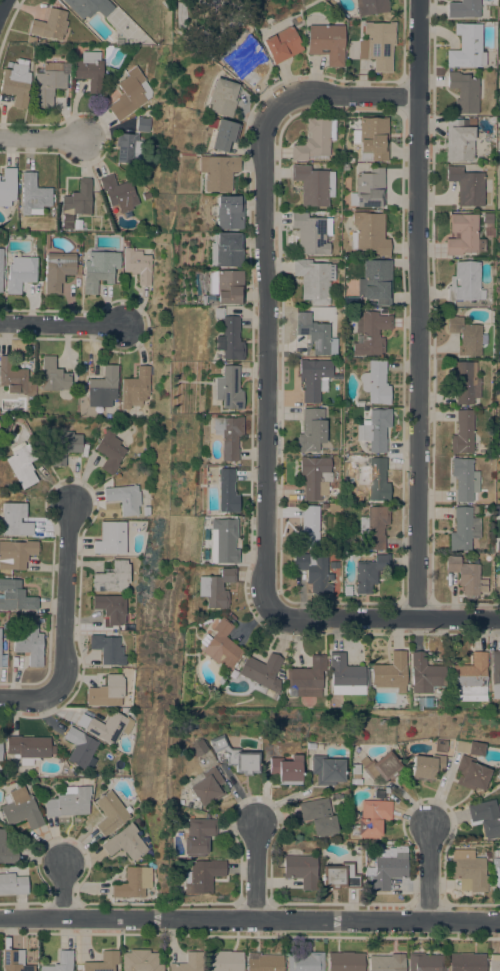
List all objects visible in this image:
road: (1, 2)
building: (89, 7)
building: (370, 7)
building: (463, 8)
building: (50, 25)
building: (142, 38)
building: (31, 40)
building: (119, 42)
building: (325, 43)
building: (280, 45)
building: (377, 45)
building: (466, 47)
building: (243, 58)
building: (89, 71)
building: (16, 83)
building: (47, 84)
building: (464, 92)
building: (130, 94)
building: (219, 98)
building: (143, 124)
building: (220, 133)
road: (42, 138)
building: (371, 139)
building: (314, 140)
building: (459, 140)
building: (131, 149)
building: (348, 158)
building: (345, 167)
building: (216, 172)
building: (313, 185)
building: (466, 186)
building: (7, 187)
building: (369, 189)
building: (119, 193)
building: (33, 195)
building: (146, 195)
building: (78, 199)
building: (227, 212)
building: (487, 218)
building: (311, 233)
building: (369, 233)
building: (463, 235)
building: (46, 241)
building: (125, 243)
building: (225, 250)
building: (138, 265)
building: (99, 269)
building: (0, 270)
building: (58, 271)
building: (20, 274)
building: (313, 280)
building: (375, 281)
building: (465, 283)
road: (266, 285)
building: (223, 288)
road: (417, 308)
road: (61, 324)
building: (370, 332)
building: (466, 335)
building: (316, 336)
building: (227, 337)
building: (53, 376)
building: (313, 378)
building: (15, 379)
building: (465, 382)
building: (375, 383)
building: (103, 387)
building: (136, 388)
building: (227, 388)
building: (359, 403)
building: (374, 430)
building: (311, 431)
building: (462, 432)
building: (227, 436)
building: (63, 447)
building: (497, 449)
building: (109, 451)
building: (21, 465)
building: (315, 477)
building: (374, 478)
building: (464, 479)
building: (226, 491)
building: (124, 499)
building: (324, 506)
building: (476, 510)
building: (497, 511)
building: (14, 520)
building: (142, 524)
building: (377, 526)
building: (308, 528)
building: (463, 529)
building: (111, 538)
building: (222, 540)
building: (16, 554)
building: (313, 571)
building: (369, 573)
building: (466, 575)
building: (112, 577)
building: (499, 581)
building: (214, 588)
building: (347, 590)
building: (15, 596)
road: (64, 596)
building: (111, 607)
road: (387, 618)
building: (27, 642)
building: (220, 644)
building: (108, 649)
building: (389, 673)
building: (261, 674)
building: (422, 674)
building: (344, 675)
building: (494, 675)
building: (220, 677)
building: (305, 678)
building: (468, 679)
building: (106, 692)
road: (28, 696)
building: (107, 726)
building: (441, 745)
building: (311, 746)
building: (79, 747)
building: (470, 747)
building: (28, 748)
building: (198, 748)
building: (0, 750)
building: (237, 756)
building: (381, 767)
building: (427, 767)
building: (286, 769)
building: (327, 770)
building: (355, 771)
building: (471, 773)
building: (355, 781)
building: (1, 784)
building: (206, 787)
building: (386, 788)
building: (380, 793)
building: (68, 802)
building: (20, 807)
building: (110, 813)
building: (318, 816)
building: (485, 817)
building: (372, 818)
building: (197, 836)
building: (125, 842)
building: (7, 849)
building: (487, 855)
building: (386, 869)
building: (301, 870)
building: (468, 870)
road: (256, 871)
building: (497, 871)
building: (339, 874)
road: (430, 874)
building: (202, 876)
building: (12, 883)
building: (133, 883)
road: (62, 888)
road: (249, 919)
building: (14, 961)
building: (139, 961)
building: (224, 961)
building: (345, 961)
building: (60, 962)
building: (102, 962)
building: (263, 962)
building: (305, 962)
building: (425, 962)
building: (466, 962)
building: (188, 963)
building: (386, 963)
building: (494, 963)

